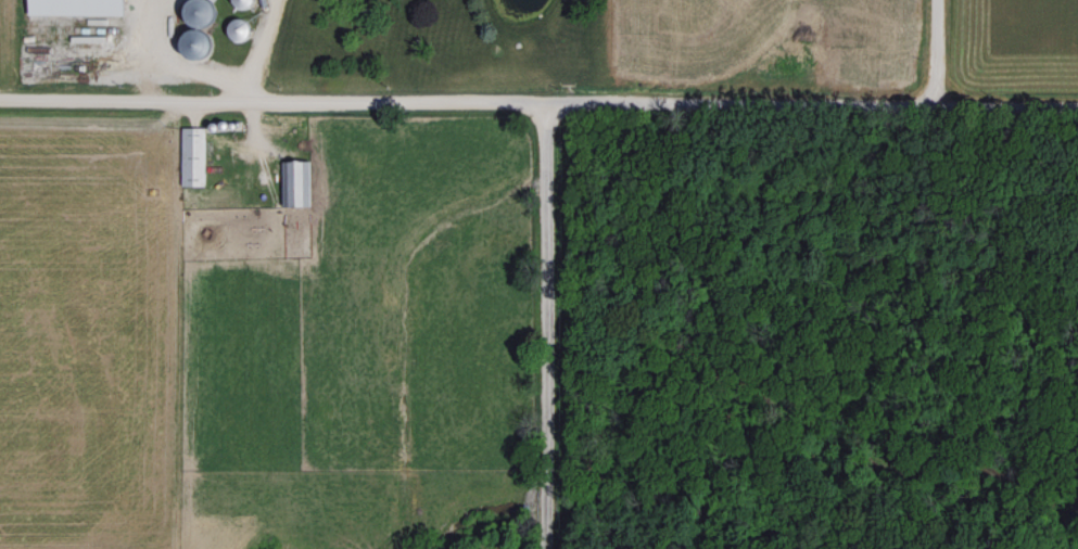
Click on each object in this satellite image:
building: (69, 7)
road: (938, 51)
road: (538, 101)
building: (292, 182)
road: (542, 325)

